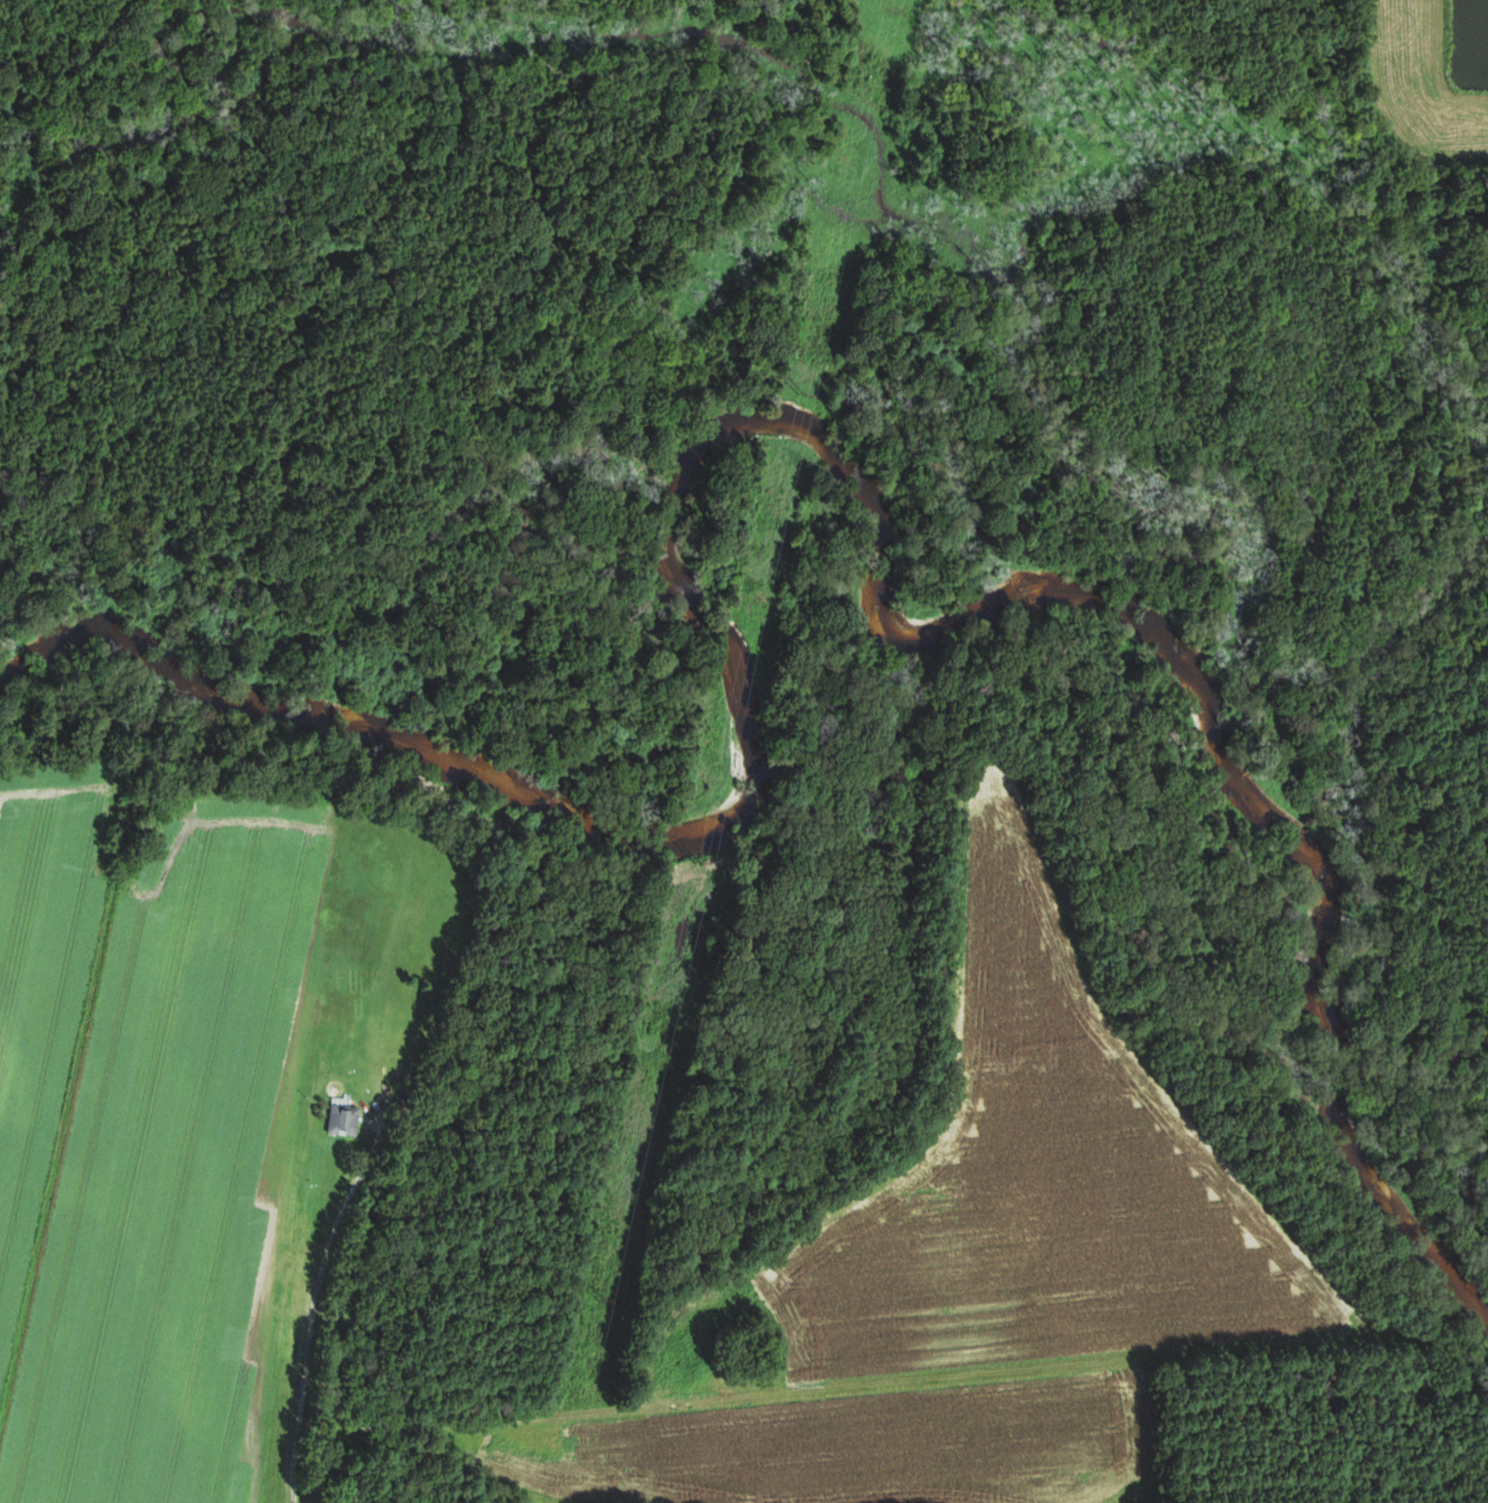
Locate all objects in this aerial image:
power tower: (809, 391)
river: (732, 431)
power tower: (704, 857)
building: (348, 1119)
power tower: (603, 1299)

